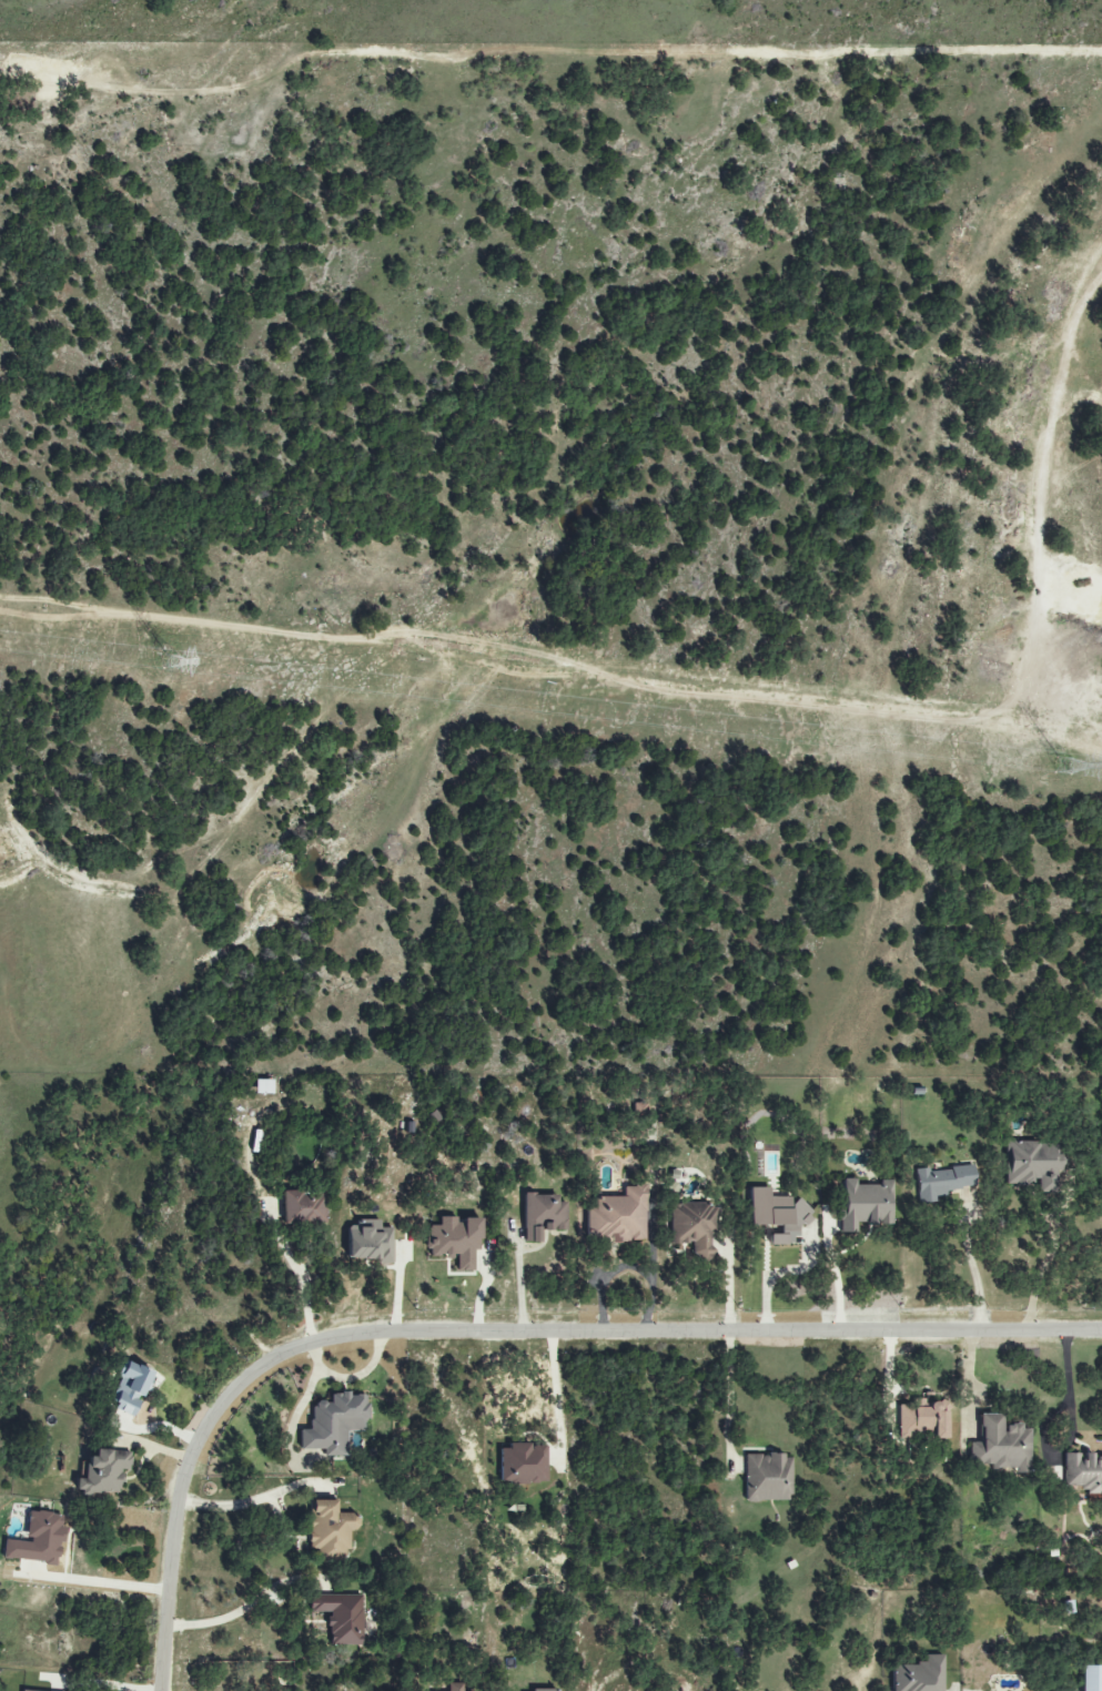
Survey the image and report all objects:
road: (843, 52)
power tower: (173, 665)
power tower: (1065, 770)
building: (265, 1088)
building: (1031, 1168)
building: (944, 1179)
building: (863, 1201)
building: (302, 1208)
building: (776, 1215)
building: (542, 1216)
building: (618, 1217)
building: (694, 1229)
building: (454, 1242)
building: (367, 1243)
road: (969, 1266)
road: (653, 1267)
road: (833, 1274)
road: (1038, 1278)
road: (606, 1282)
road: (305, 1296)
road: (503, 1334)
road: (549, 1383)
building: (127, 1390)
road: (729, 1401)
building: (333, 1424)
road: (1070, 1436)
building: (999, 1445)
building: (520, 1464)
building: (102, 1472)
building: (1083, 1472)
road: (230, 1508)
building: (327, 1529)
building: (37, 1541)
road: (103, 1582)
building: (1068, 1608)
road: (240, 1610)
building: (918, 1675)
building: (1091, 1678)
building: (457, 1689)
building: (543, 1690)

